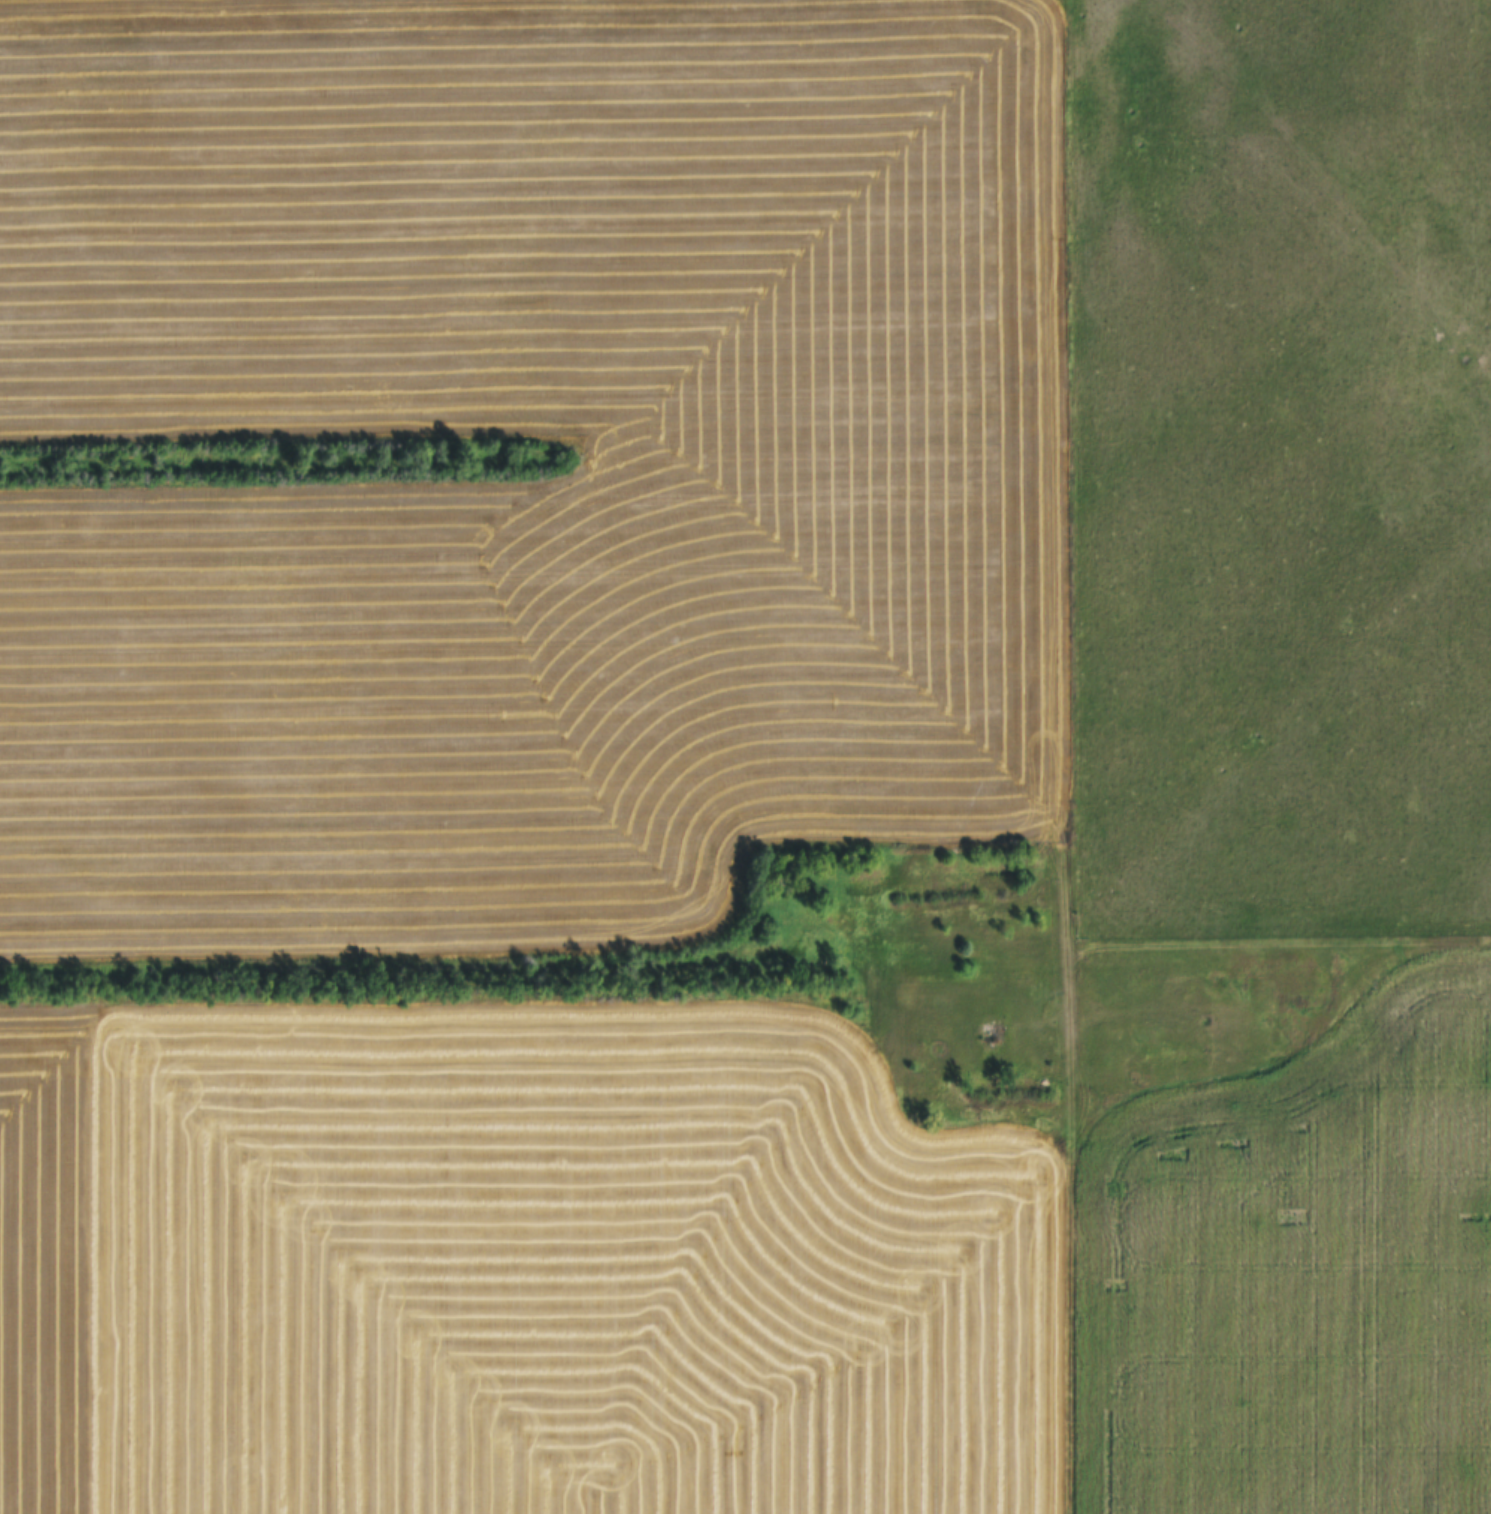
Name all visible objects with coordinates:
road: (1066, 756)

